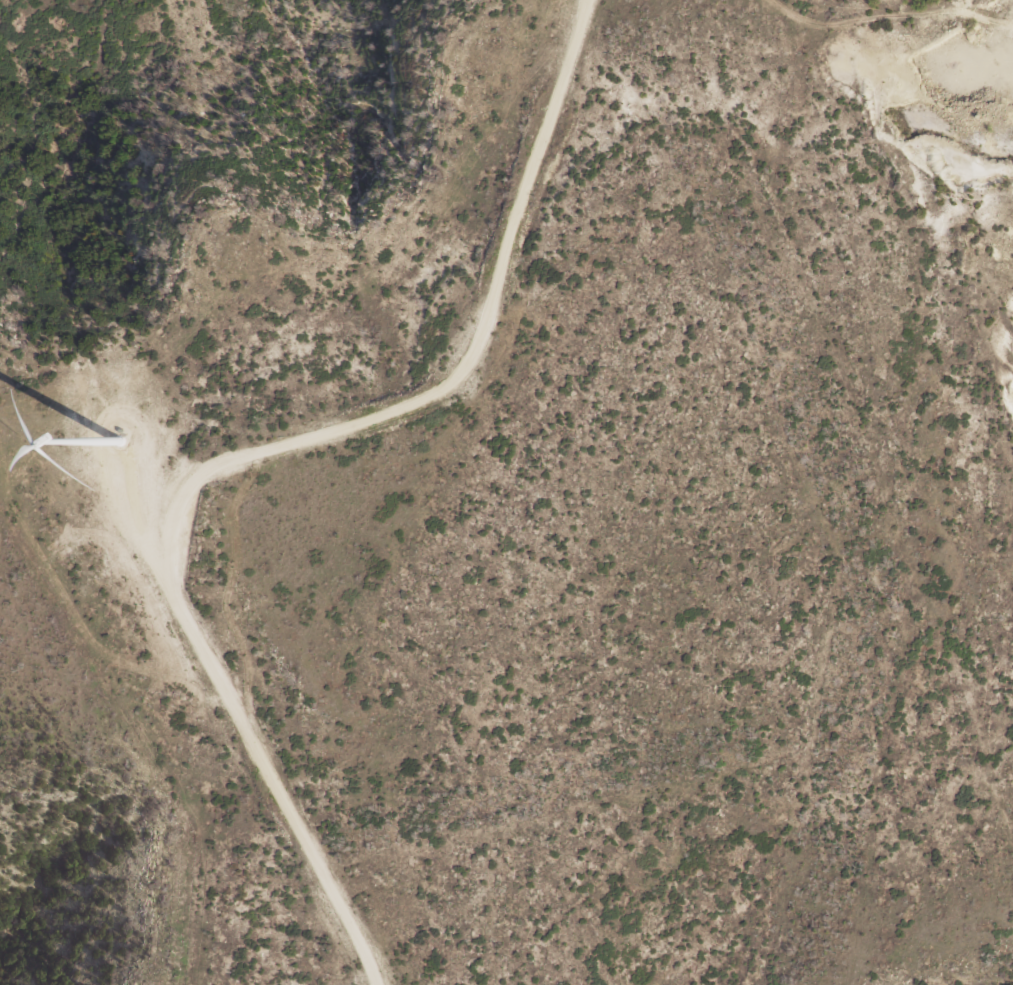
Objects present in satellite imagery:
wind turbine: (126, 434)

